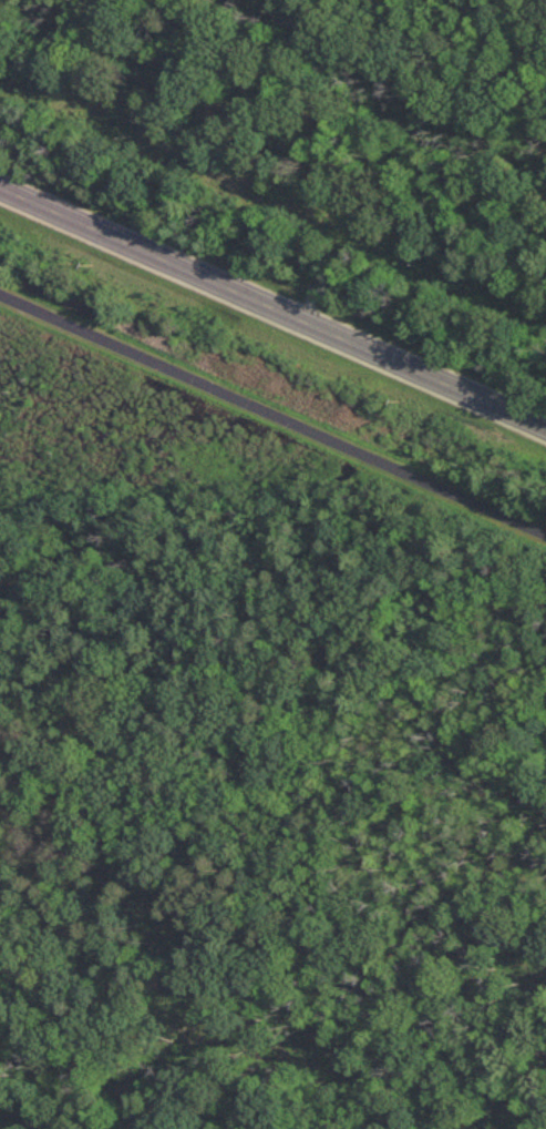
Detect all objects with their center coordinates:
road: (272, 307)
road: (272, 415)

